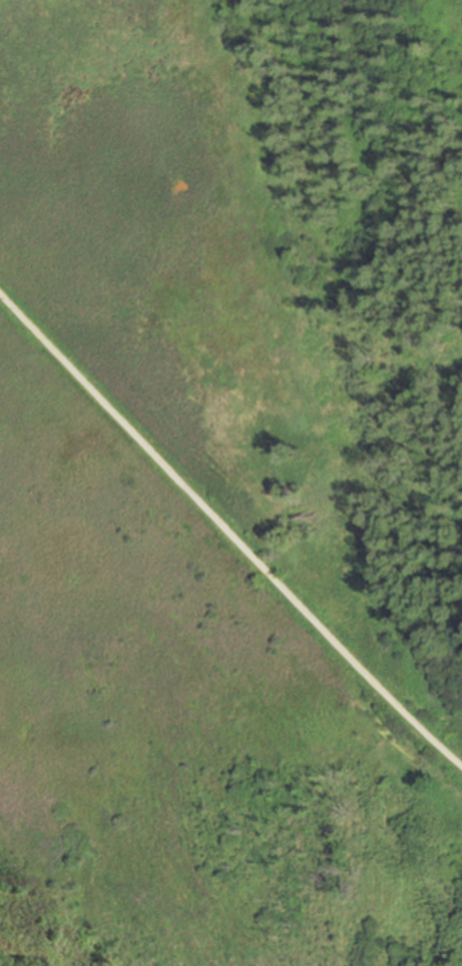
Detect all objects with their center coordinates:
road: (229, 533)

